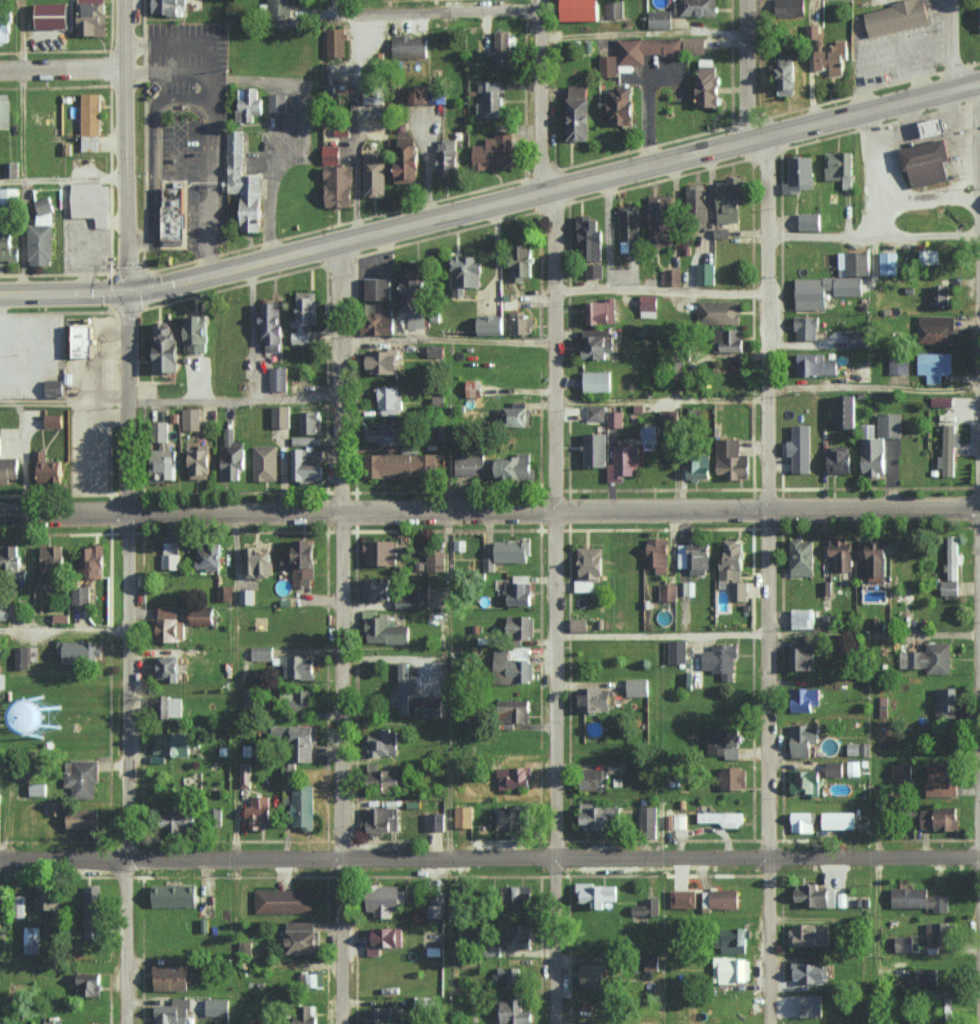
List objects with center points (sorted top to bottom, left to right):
building: (168, 6)
building: (280, 7)
building: (699, 8)
building: (790, 8)
building: (614, 9)
building: (582, 10)
road: (344, 11)
building: (979, 13)
building: (53, 15)
building: (898, 16)
building: (92, 17)
road: (429, 19)
building: (660, 19)
building: (5, 31)
building: (336, 42)
road: (944, 42)
road: (184, 44)
building: (410, 47)
building: (503, 48)
building: (648, 51)
building: (827, 51)
parking lot: (894, 57)
road: (62, 69)
road: (741, 69)
building: (787, 74)
road: (168, 75)
building: (708, 83)
road: (212, 89)
building: (375, 90)
road: (910, 94)
building: (420, 95)
building: (490, 100)
building: (277, 103)
building: (249, 104)
building: (623, 106)
building: (5, 111)
building: (578, 112)
building: (91, 114)
building: (936, 128)
road: (158, 134)
parking lot: (222, 136)
building: (90, 143)
road: (212, 145)
parking lot: (181, 150)
building: (495, 152)
road: (151, 153)
building: (332, 155)
parking lot: (956, 156)
building: (449, 158)
building: (408, 159)
building: (928, 163)
gas station: (928, 163)
road: (878, 170)
parking lot: (898, 172)
building: (800, 174)
building: (375, 176)
road: (63, 178)
building: (246, 184)
building: (339, 186)
building: (9, 196)
road: (929, 196)
building: (731, 200)
building: (91, 202)
building: (698, 203)
building: (44, 210)
building: (175, 215)
road: (422, 218)
building: (661, 220)
building: (810, 221)
building: (629, 229)
road: (208, 231)
building: (722, 233)
road: (875, 235)
road: (86, 237)
building: (591, 241)
building: (9, 244)
building: (41, 245)
parking lot: (87, 251)
road: (128, 256)
road: (541, 257)
building: (929, 257)
building: (522, 260)
building: (888, 263)
building: (594, 270)
building: (705, 273)
building: (467, 274)
building: (671, 276)
building: (835, 281)
building: (413, 288)
building: (380, 289)
traffic signals: (129, 292)
building: (940, 295)
building: (649, 305)
building: (602, 312)
building: (719, 312)
building: (304, 316)
building: (381, 320)
building: (417, 320)
road: (769, 321)
building: (521, 323)
building: (491, 325)
building: (271, 326)
building: (807, 328)
building: (938, 329)
building: (196, 334)
building: (859, 338)
building: (83, 340)
building: (732, 341)
building: (598, 344)
building: (166, 348)
building: (436, 350)
parking lot: (30, 354)
road: (98, 357)
building: (383, 362)
parking lot: (96, 363)
building: (899, 363)
building: (815, 364)
building: (936, 366)
road: (341, 376)
building: (278, 379)
building: (597, 381)
building: (55, 388)
building: (474, 388)
building: (390, 401)
building: (942, 401)
road: (64, 402)
road: (235, 402)
building: (846, 411)
building: (596, 413)
building: (281, 416)
building: (514, 417)
building: (191, 419)
building: (615, 419)
building: (53, 420)
building: (669, 422)
building: (310, 423)
building: (161, 431)
building: (385, 434)
building: (879, 442)
parking lot: (89, 446)
building: (801, 448)
building: (595, 450)
building: (949, 450)
building: (232, 457)
building: (840, 459)
building: (733, 460)
building: (265, 462)
building: (624, 462)
building: (201, 463)
building: (470, 464)
building: (400, 465)
building: (308, 466)
building: (9, 467)
building: (515, 467)
building: (698, 468)
building: (51, 469)
road: (490, 513)
building: (514, 550)
building: (382, 551)
building: (171, 554)
building: (843, 554)
building: (803, 555)
building: (10, 556)
building: (209, 556)
building: (694, 556)
building: (953, 556)
building: (93, 560)
building: (435, 561)
building: (660, 561)
building: (875, 561)
building: (258, 562)
building: (52, 563)
building: (305, 564)
building: (590, 567)
building: (733, 570)
building: (950, 587)
building: (377, 588)
building: (687, 588)
building: (668, 591)
building: (224, 592)
building: (519, 593)
building: (81, 594)
building: (247, 596)
building: (414, 599)
building: (203, 616)
building: (803, 618)
building: (171, 624)
building: (579, 624)
building: (520, 625)
road: (63, 631)
building: (77, 650)
building: (677, 651)
building: (261, 653)
building: (801, 654)
building: (22, 656)
building: (929, 658)
building: (721, 659)
building: (169, 665)
building: (298, 666)
building: (512, 668)
building: (2, 680)
building: (637, 686)
building: (403, 689)
building: (250, 698)
building: (595, 698)
building: (805, 698)
building: (303, 700)
building: (947, 702)
building: (171, 706)
building: (428, 706)
building: (518, 710)
water tower: (27, 711)
building: (63, 712)
water tower: (45, 717)
road: (978, 724)
building: (804, 739)
building: (175, 741)
building: (297, 741)
building: (383, 742)
building: (724, 743)
building: (858, 748)
building: (615, 765)
road: (340, 767)
road: (123, 768)
road: (766, 768)
building: (852, 768)
road: (553, 769)
building: (834, 769)
building: (20, 770)
building: (902, 772)
building: (245, 774)
building: (515, 777)
building: (732, 777)
building: (384, 778)
building: (83, 779)
building: (594, 779)
building: (942, 779)
building: (805, 782)
building: (37, 789)
building: (0, 802)
building: (304, 806)
building: (55, 807)
building: (258, 812)
building: (464, 816)
building: (599, 816)
building: (513, 817)
building: (83, 818)
building: (382, 818)
building: (723, 818)
building: (940, 818)
building: (180, 819)
building: (840, 820)
building: (435, 821)
building: (648, 821)
building: (675, 821)
building: (802, 821)
road: (489, 858)
building: (597, 894)
building: (176, 895)
building: (812, 895)
building: (46, 897)
building: (522, 897)
building: (684, 898)
building: (917, 898)
building: (384, 899)
building: (720, 899)
building: (283, 900)
building: (22, 906)
building: (646, 907)
building: (437, 910)
building: (91, 911)
building: (939, 933)
building: (809, 934)
building: (384, 936)
building: (521, 936)
building: (302, 937)
building: (32, 939)
building: (733, 940)
road: (236, 942)
building: (904, 943)
building: (732, 969)
building: (811, 972)
building: (595, 975)
building: (927, 976)
building: (172, 977)
building: (509, 977)
building: (312, 980)
building: (87, 984)
building: (812, 1005)
building: (217, 1006)
building: (172, 1012)
building: (516, 1012)
building: (307, 1015)
building: (385, 1015)
building: (259, 1021)
building: (52, 1023)

